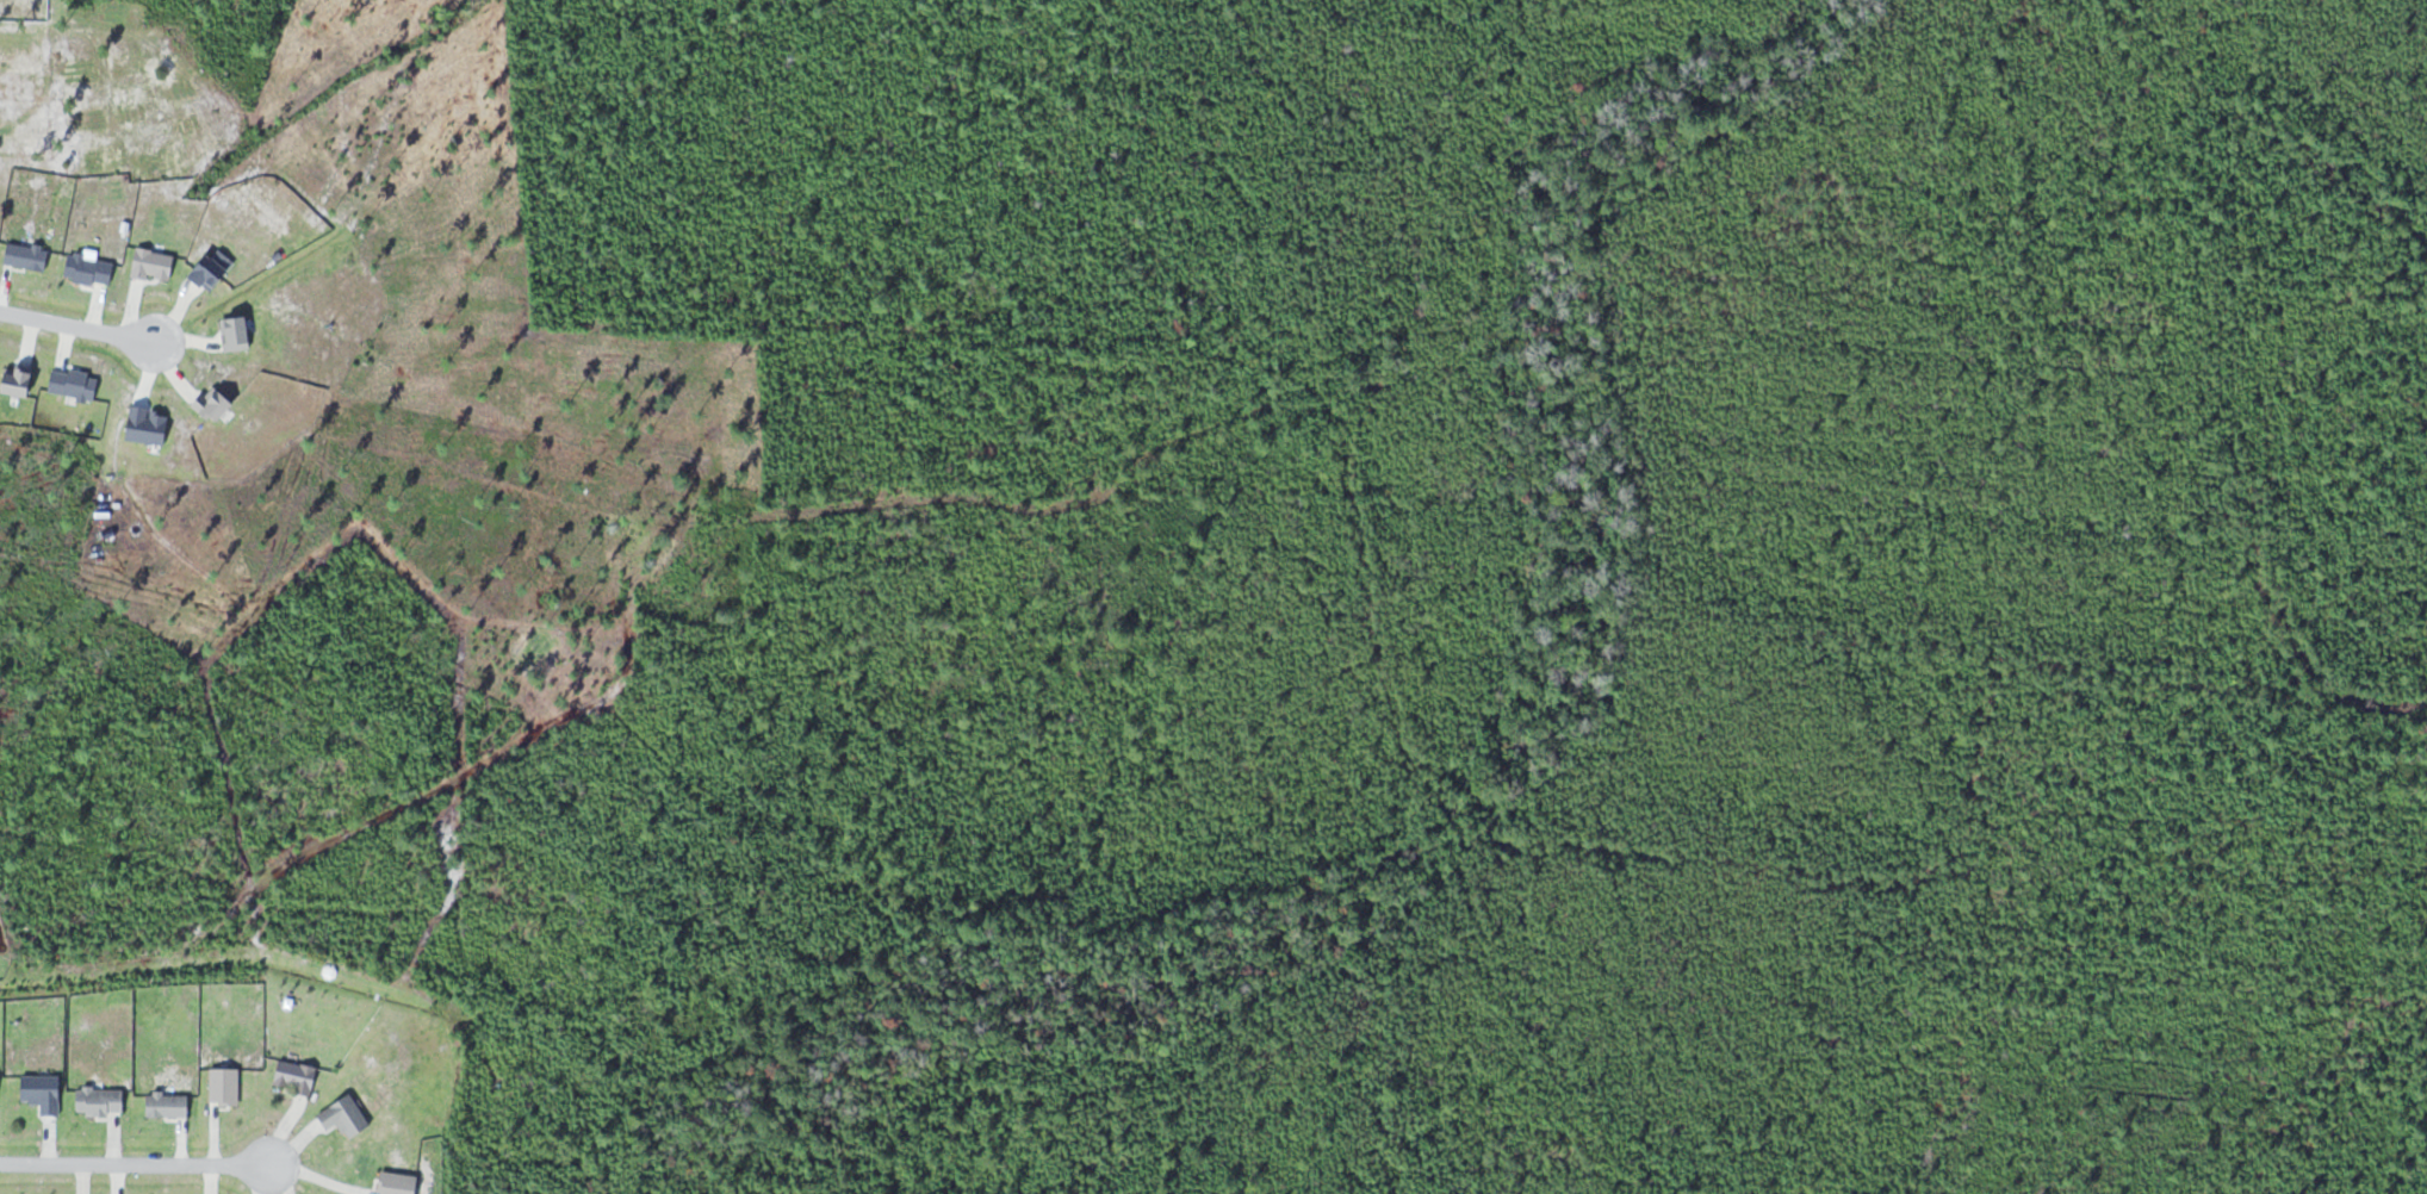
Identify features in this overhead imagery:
road: (77, 325)
road: (135, 1162)

